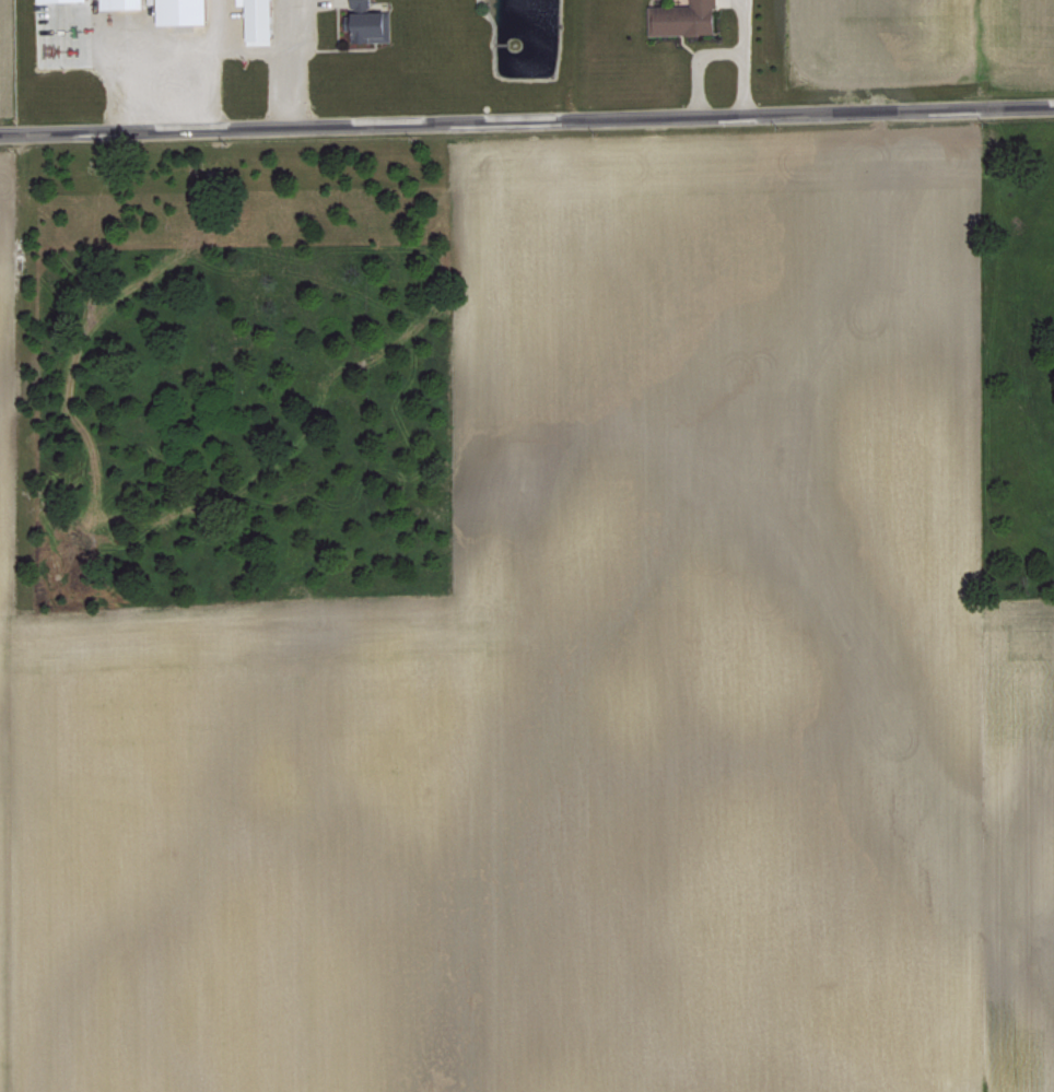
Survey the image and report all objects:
building: (47, 0)
building: (122, 3)
building: (185, 11)
building: (684, 17)
building: (260, 20)
building: (368, 22)
road: (527, 124)

